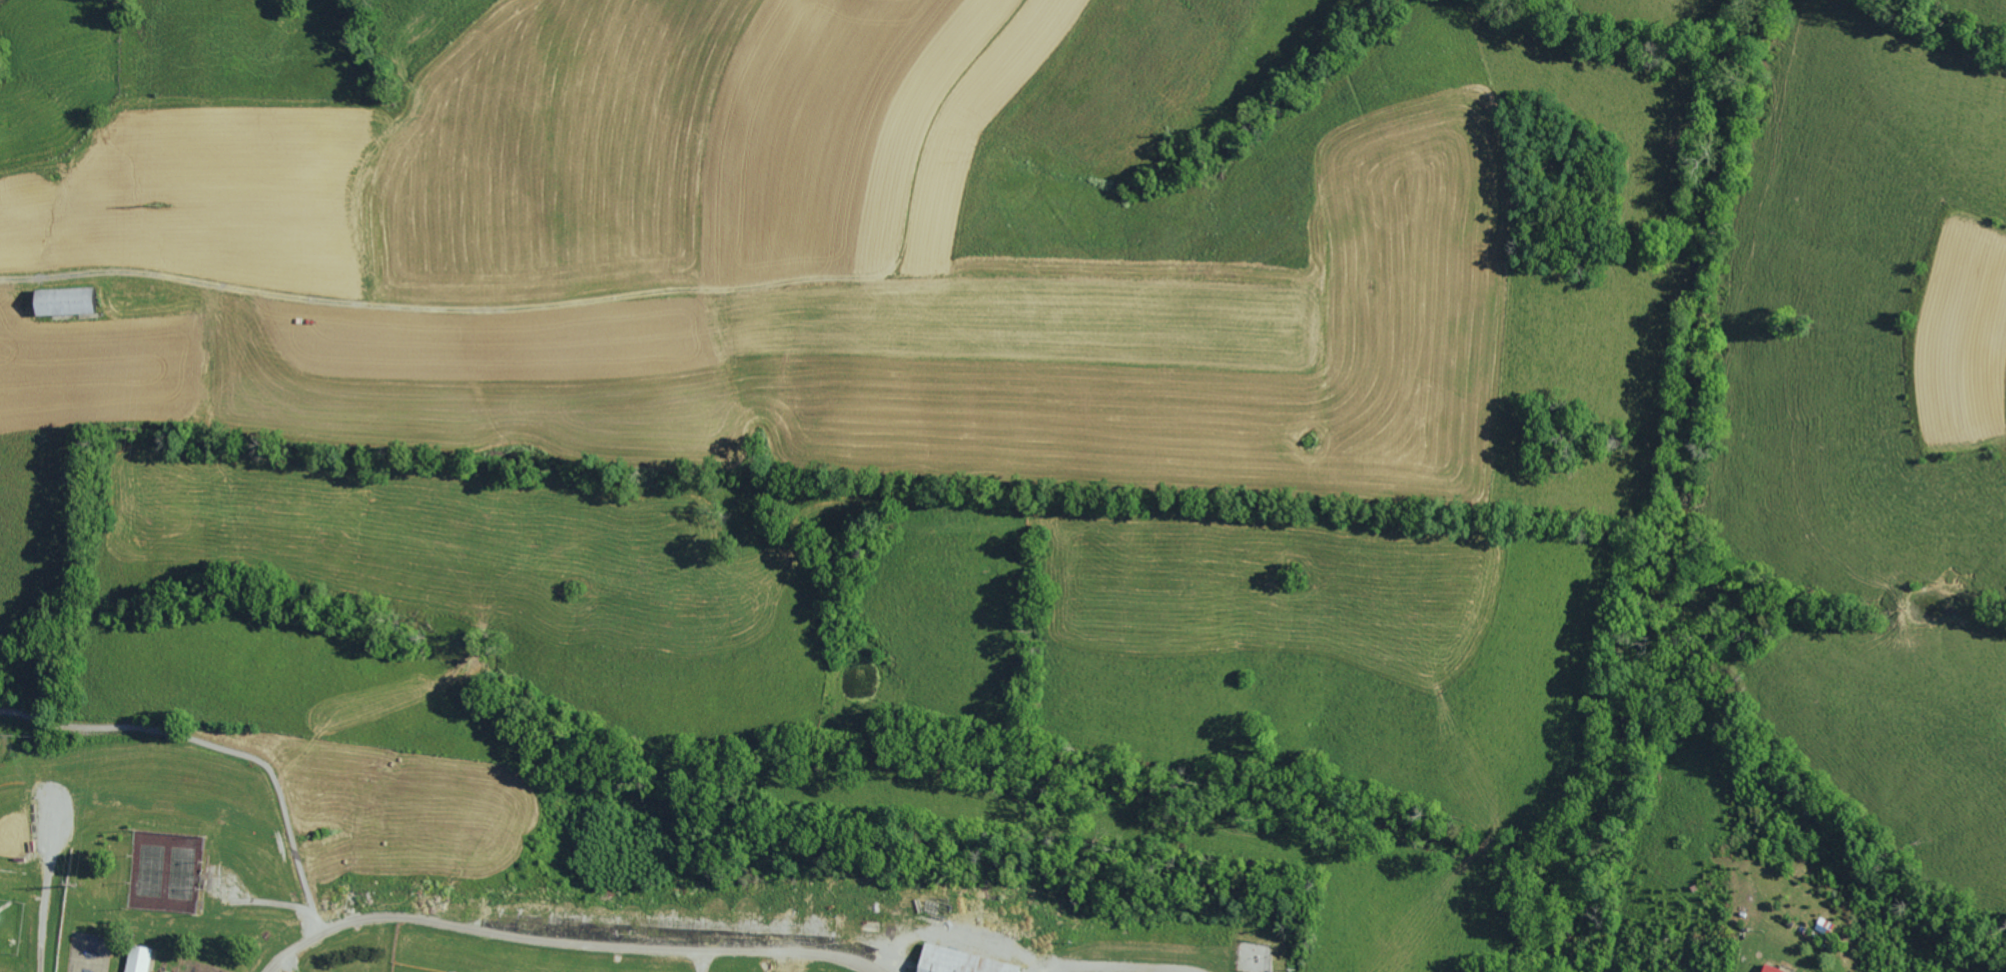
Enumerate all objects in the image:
building: (58, 300)
park: (588, 870)
road: (547, 938)
building: (137, 959)
building: (956, 961)
park: (415, 968)
building: (1767, 969)

